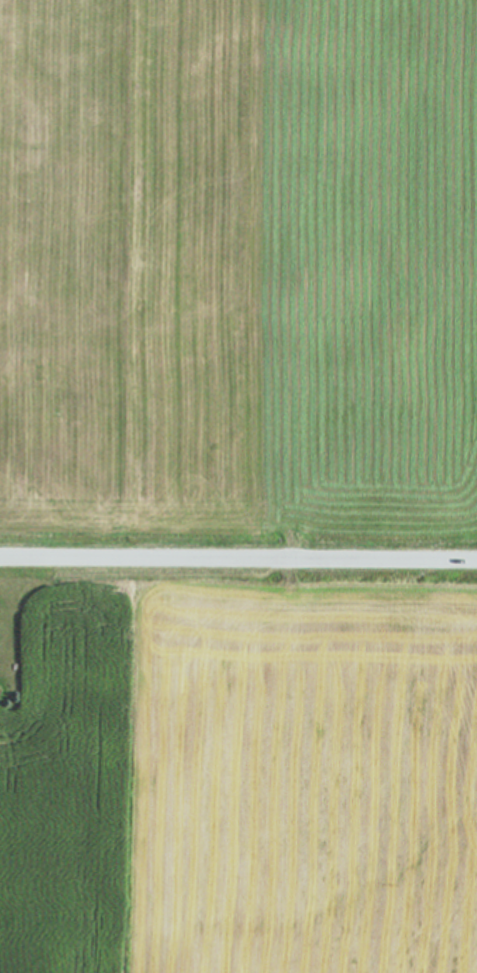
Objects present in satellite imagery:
road: (238, 559)

